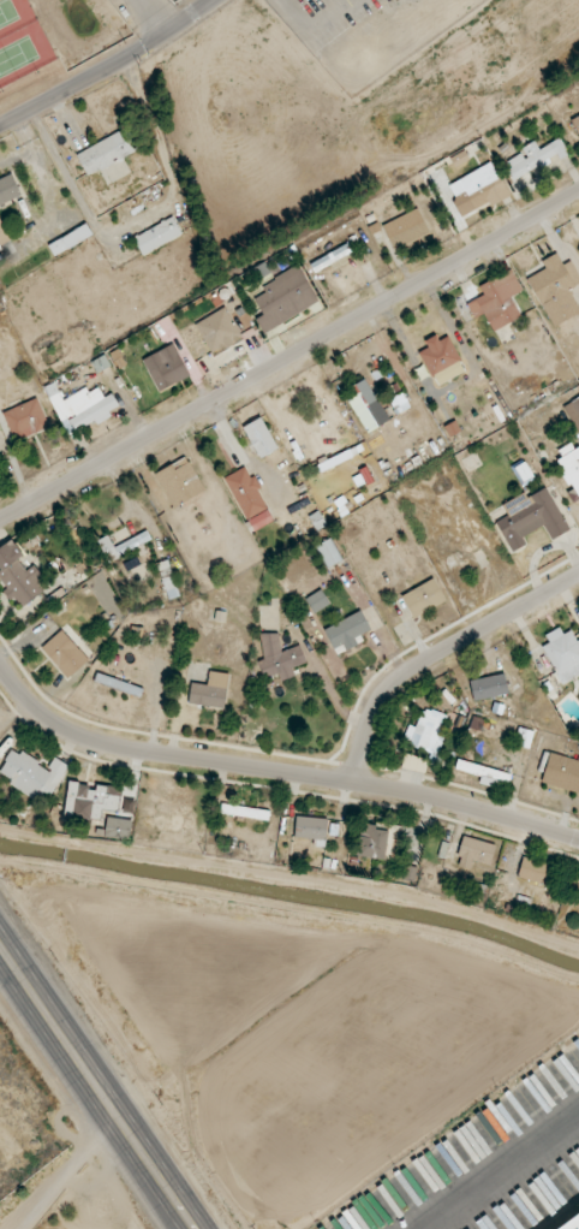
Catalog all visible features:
park: (19, 38)
road: (111, 69)
building: (575, 124)
building: (109, 153)
building: (536, 156)
building: (478, 189)
building: (8, 190)
building: (405, 228)
building: (2, 236)
building: (157, 236)
building: (330, 257)
building: (556, 289)
building: (283, 298)
building: (497, 301)
building: (244, 322)
building: (217, 331)
road: (289, 358)
building: (441, 360)
building: (166, 368)
building: (82, 408)
building: (366, 408)
building: (573, 412)
building: (26, 420)
building: (259, 438)
building: (569, 468)
building: (179, 482)
building: (249, 499)
building: (531, 518)
building: (123, 545)
building: (329, 552)
building: (19, 576)
building: (168, 580)
building: (423, 598)
building: (317, 601)
building: (347, 633)
building: (65, 653)
road: (438, 654)
building: (563, 655)
building: (279, 658)
building: (118, 685)
building: (489, 687)
building: (210, 691)
building: (426, 731)
building: (524, 737)
road: (276, 771)
building: (560, 771)
building: (484, 774)
building: (32, 776)
building: (91, 800)
building: (245, 812)
building: (118, 829)
building: (311, 830)
building: (372, 842)
building: (474, 853)
building: (531, 869)
road: (95, 1086)
road: (67, 1171)
building: (572, 1223)

